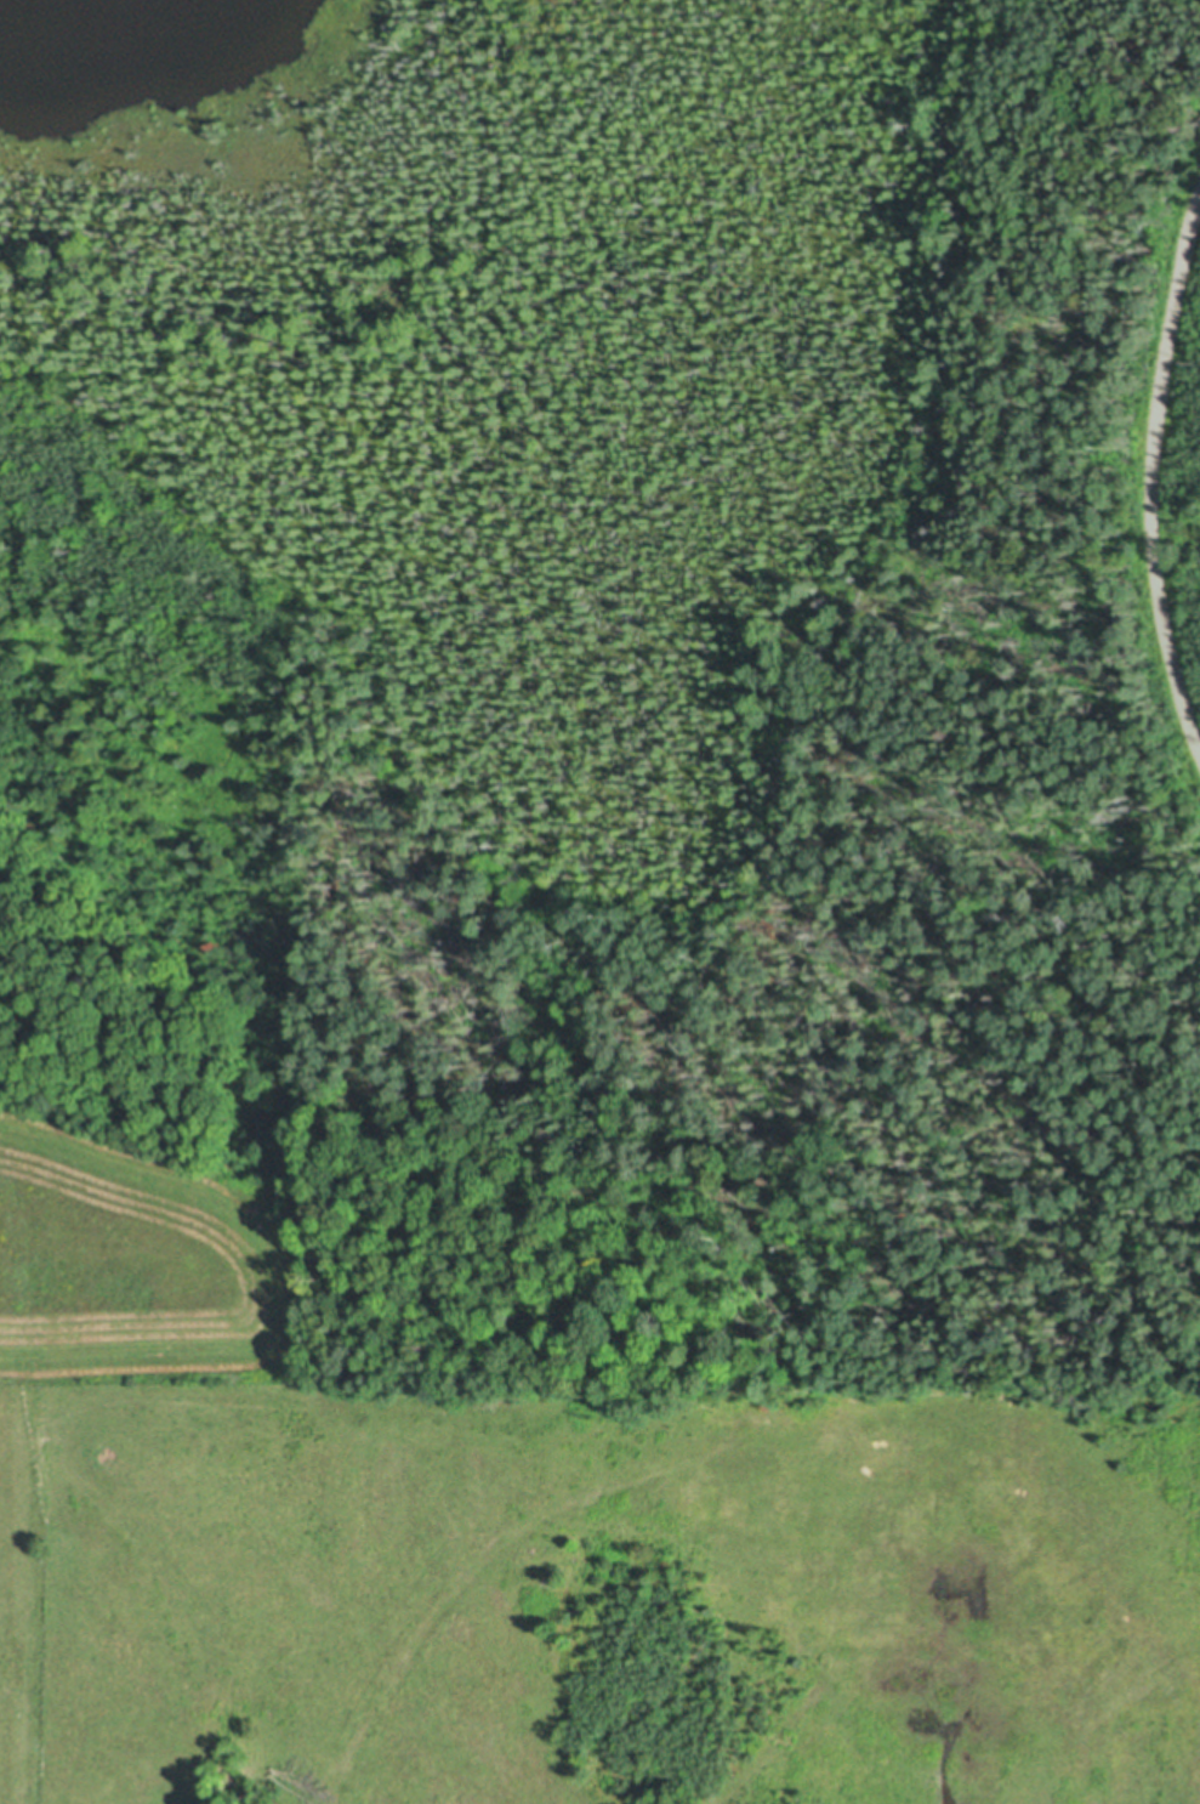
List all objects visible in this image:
road: (1145, 473)

